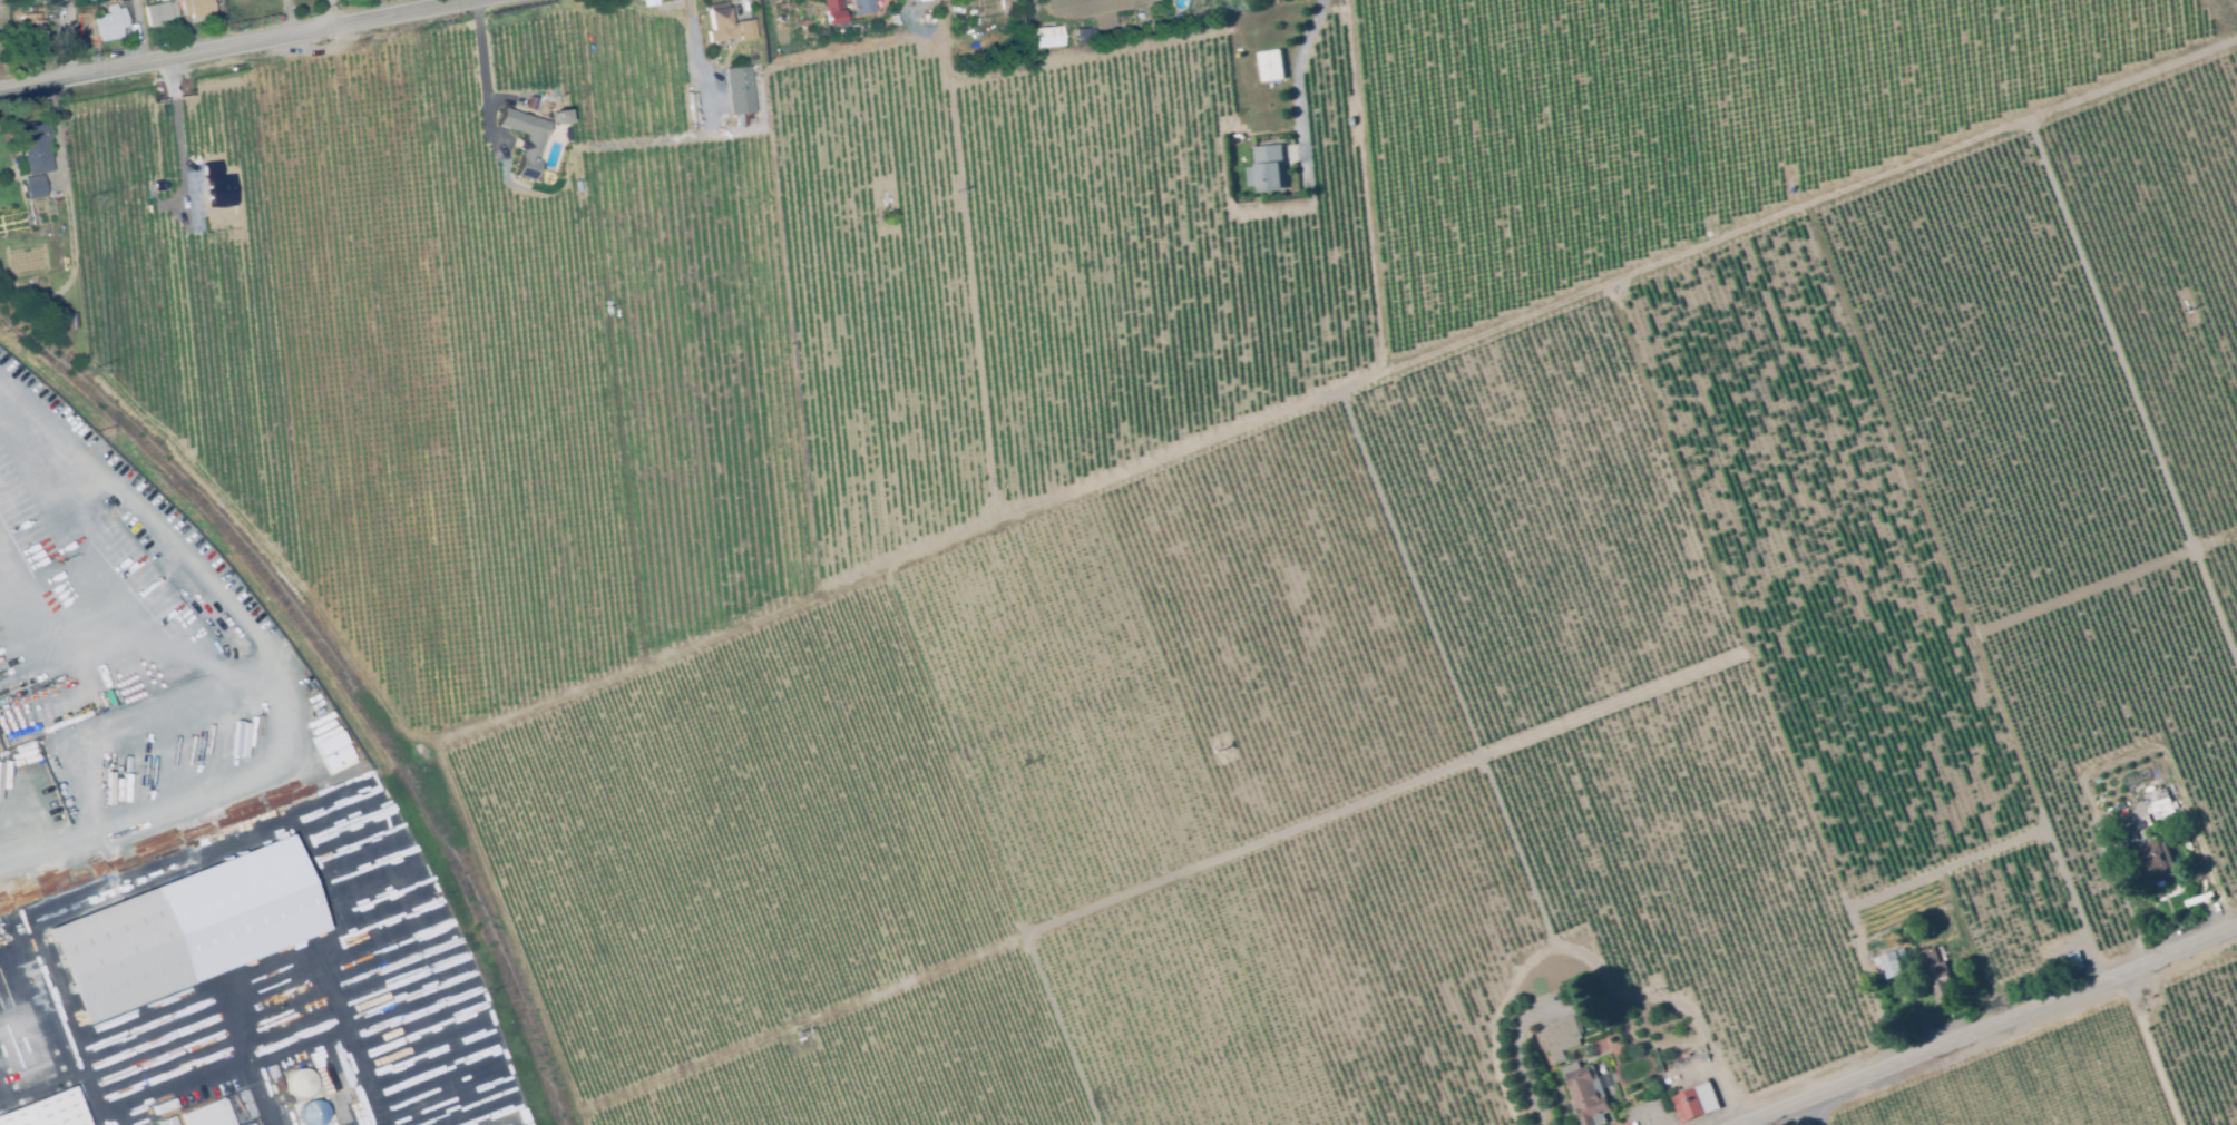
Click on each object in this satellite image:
building: (918, 0)
building: (26, 1)
building: (648, 2)
building: (1008, 6)
building: (861, 7)
building: (196, 8)
building: (832, 11)
road: (332, 13)
building: (159, 14)
building: (1139, 17)
building: (111, 21)
building: (32, 27)
building: (721, 30)
building: (748, 33)
building: (1085, 36)
building: (1046, 38)
road: (242, 43)
building: (1271, 66)
road: (1295, 75)
road: (487, 78)
building: (739, 91)
building: (558, 117)
building: (1235, 137)
building: (524, 138)
building: (35, 145)
building: (1270, 166)
building: (38, 188)
railway: (345, 677)
road: (332, 747)
road: (139, 796)
building: (2160, 805)
building: (2136, 832)
road: (16, 852)
building: (2157, 860)
road: (1935, 875)
building: (1912, 925)
building: (118, 955)
building: (2071, 962)
building: (1892, 966)
building: (1937, 977)
road: (219, 988)
road: (1608, 998)
road: (1984, 1025)
road: (1885, 1029)
building: (1562, 1038)
building: (300, 1082)
building: (276, 1084)
building: (224, 1094)
building: (1586, 1094)
building: (38, 1095)
building: (318, 1097)
building: (1693, 1104)
building: (208, 1113)
building: (166, 1122)

